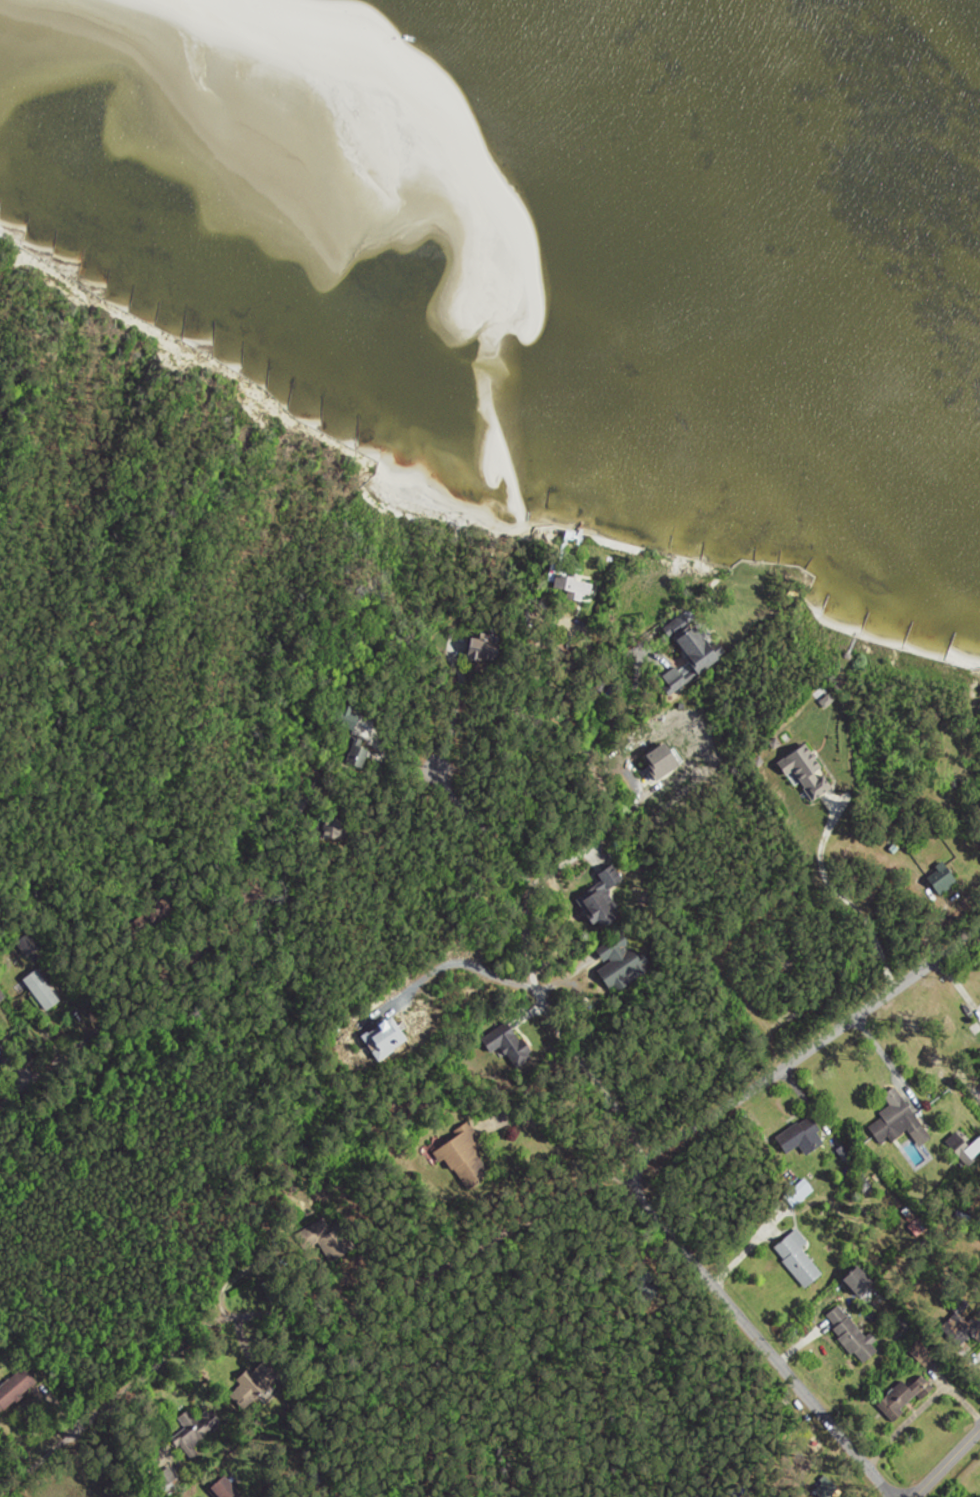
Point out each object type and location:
building: (576, 589)
building: (699, 650)
building: (484, 652)
building: (359, 755)
building: (658, 765)
building: (805, 774)
road: (559, 865)
building: (942, 880)
building: (602, 898)
road: (527, 969)
building: (42, 991)
building: (2, 996)
building: (1, 1049)
building: (513, 1049)
road: (50, 1059)
building: (897, 1120)
building: (804, 1136)
building: (974, 1150)
road: (497, 1240)
building: (797, 1260)
building: (858, 1283)
road: (754, 1334)
building: (851, 1336)
building: (251, 1388)
building: (15, 1389)
building: (902, 1400)
building: (195, 1429)
road: (946, 1462)
building: (227, 1489)

